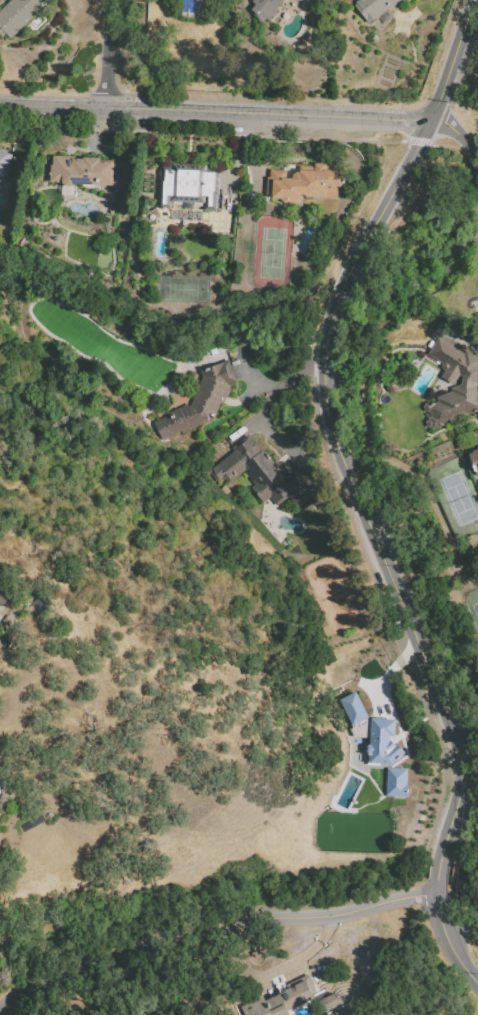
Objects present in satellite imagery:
building: (264, 8)
building: (372, 8)
building: (17, 14)
road: (110, 53)
road: (215, 111)
road: (209, 127)
road: (456, 132)
building: (4, 161)
building: (79, 170)
building: (303, 182)
building: (187, 186)
park: (271, 252)
road: (467, 347)
road: (251, 374)
building: (453, 384)
road: (363, 388)
building: (198, 401)
road: (259, 417)
building: (473, 459)
building: (259, 473)
road: (356, 487)
park: (455, 495)
road: (427, 571)
road: (407, 576)
park: (334, 593)
park: (472, 607)
road: (386, 674)
building: (352, 708)
road: (464, 737)
building: (382, 741)
building: (395, 781)
building: (347, 791)
road: (211, 932)
road: (464, 932)
building: (280, 999)
building: (329, 1001)

